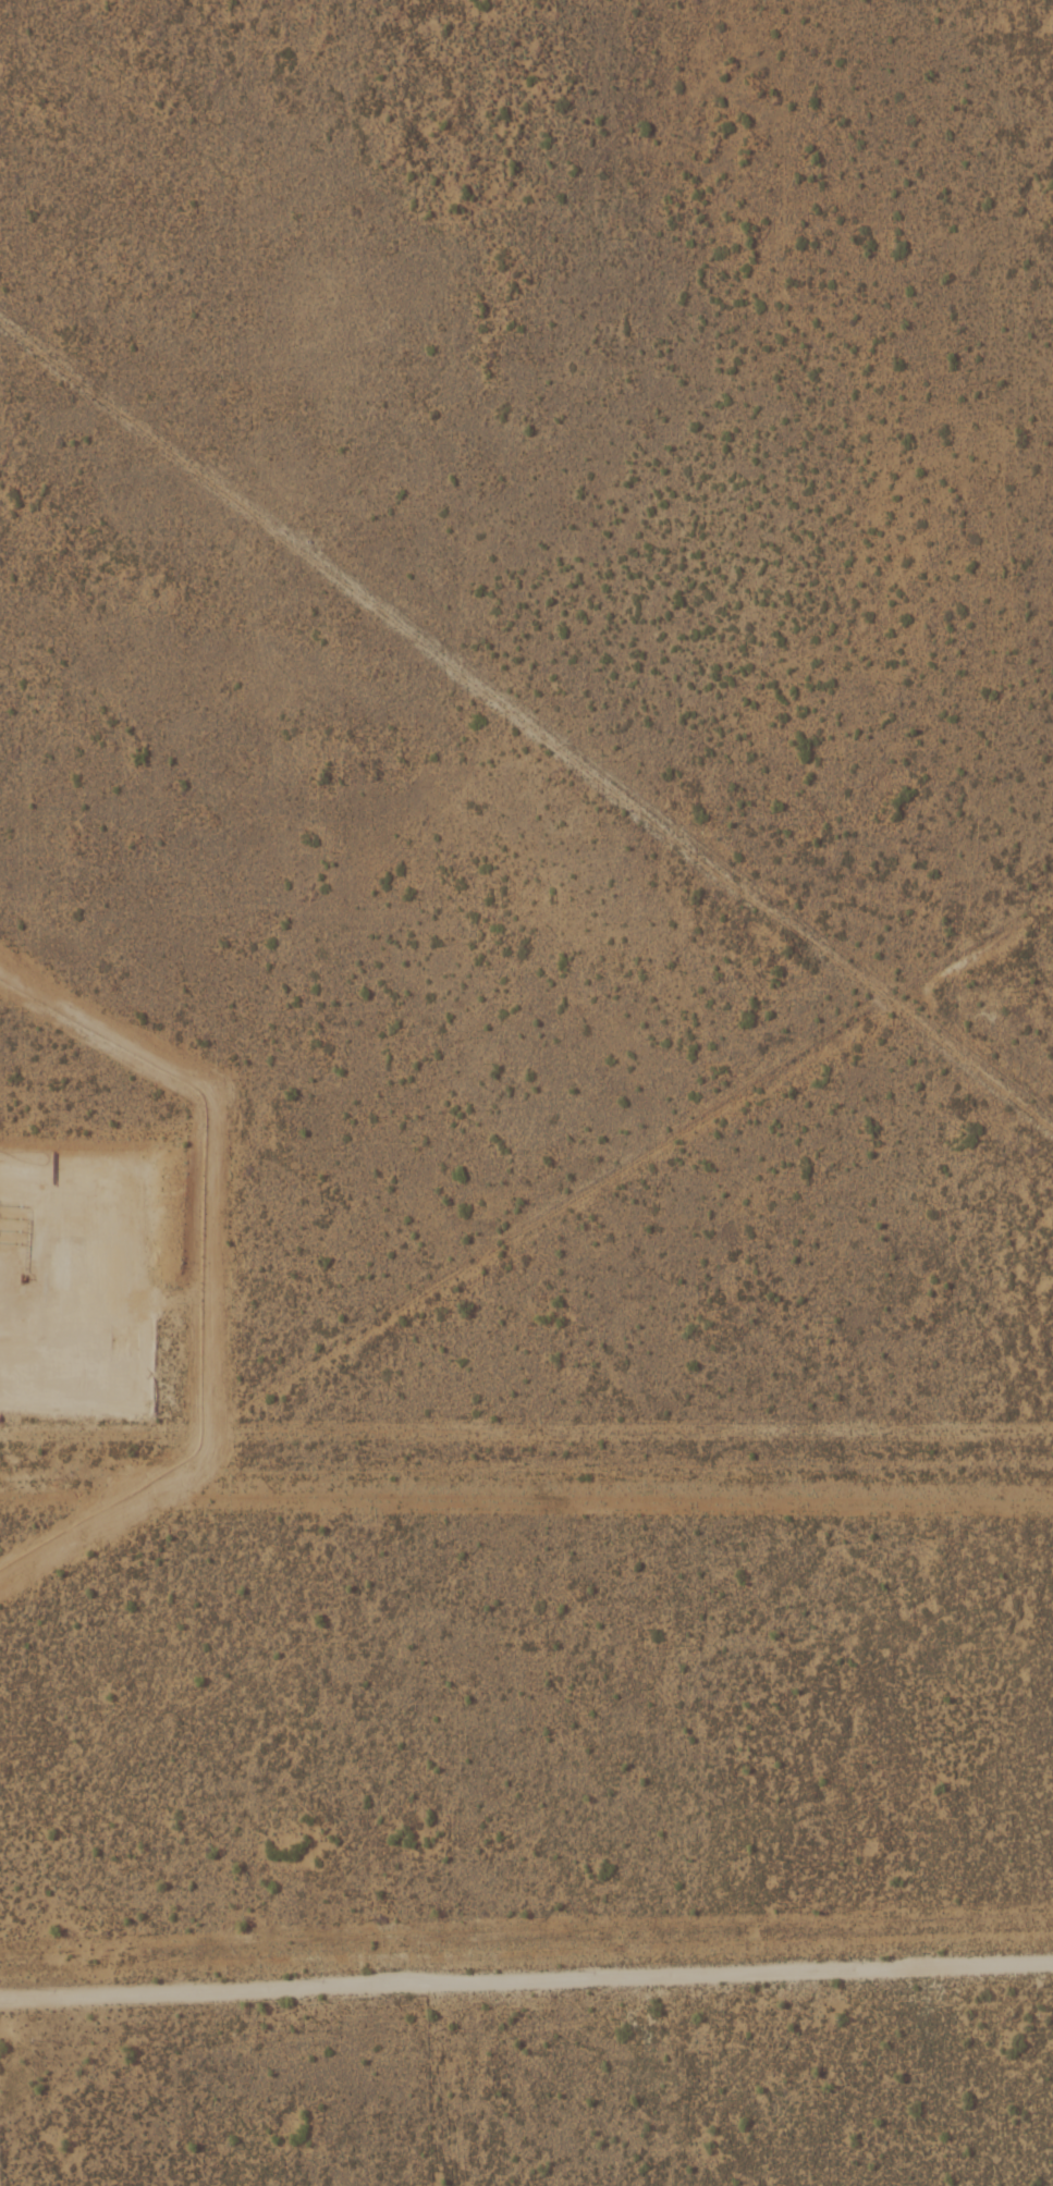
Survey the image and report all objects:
road: (30, 1368)
road: (526, 1978)

